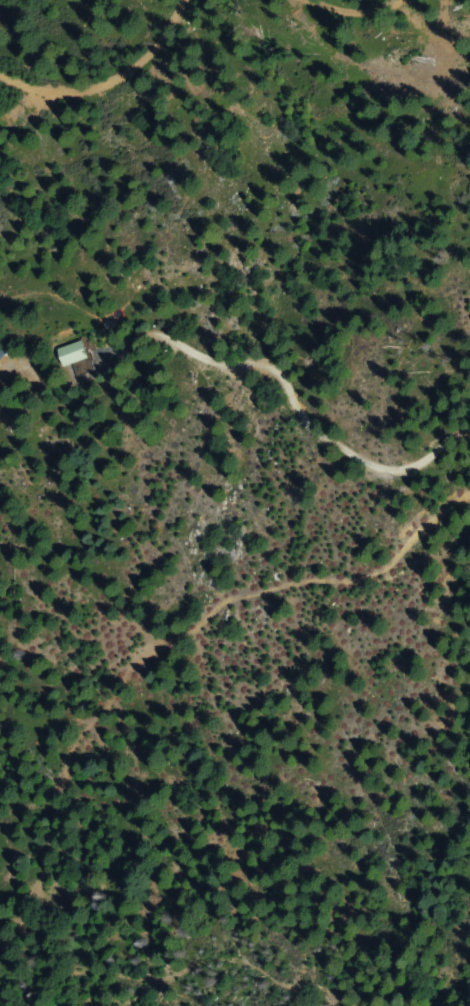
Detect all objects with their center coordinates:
building: (2, 354)
building: (73, 354)
road: (244, 367)

